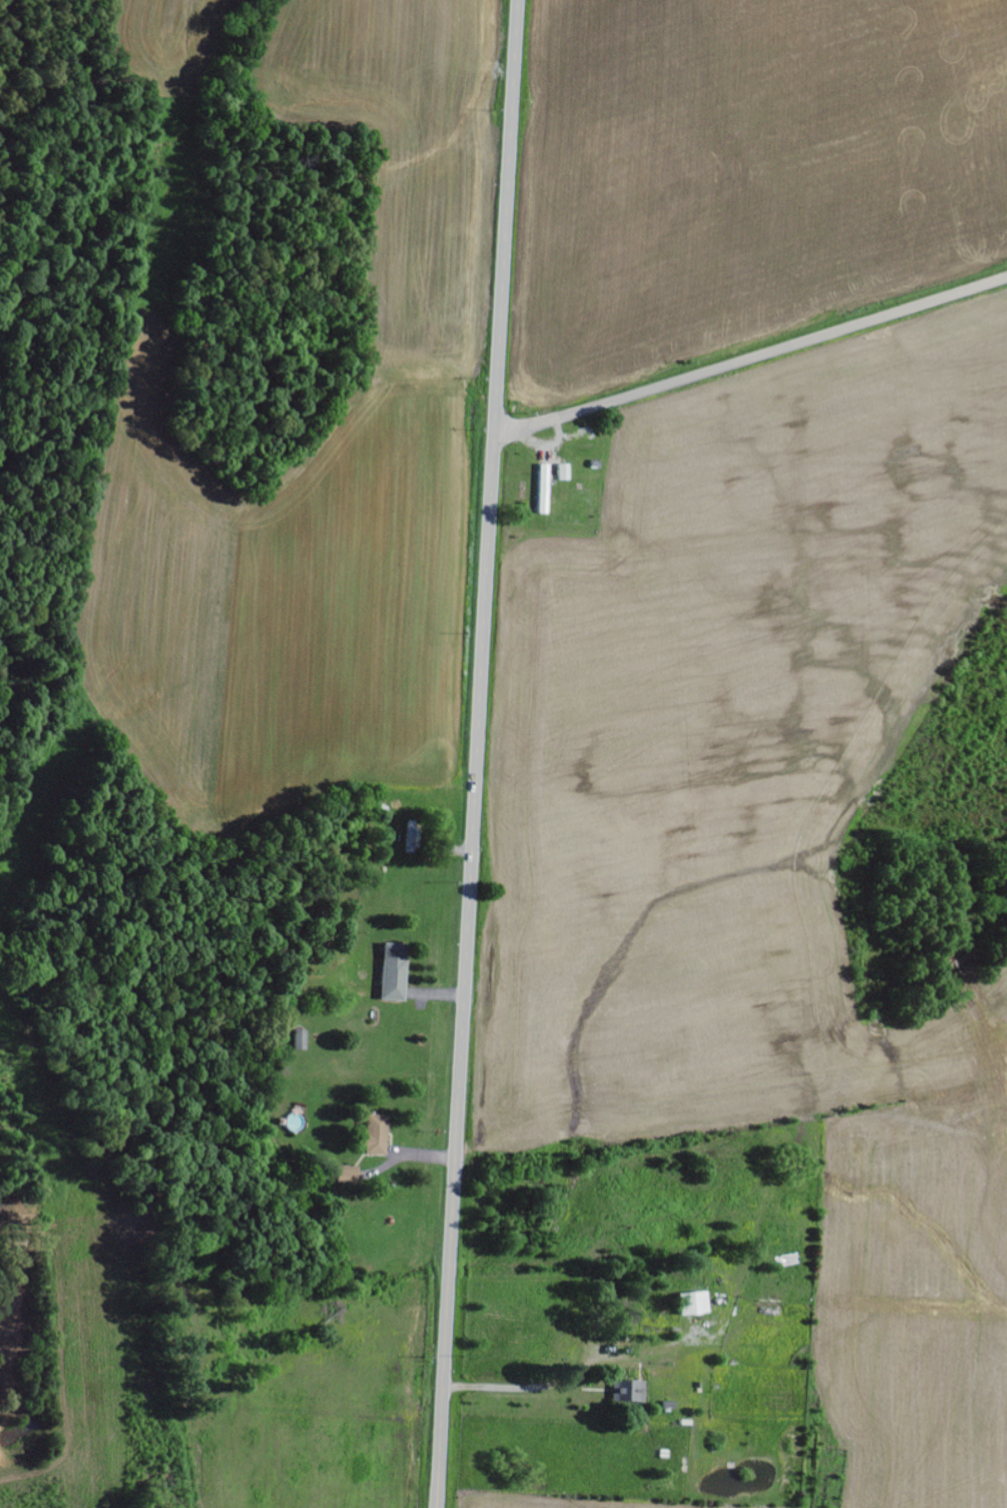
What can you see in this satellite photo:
road: (751, 361)
building: (565, 473)
building: (545, 489)
road: (478, 753)
building: (414, 837)
building: (396, 973)
building: (302, 1041)
building: (378, 1136)
building: (349, 1177)
building: (695, 1305)
building: (630, 1392)

